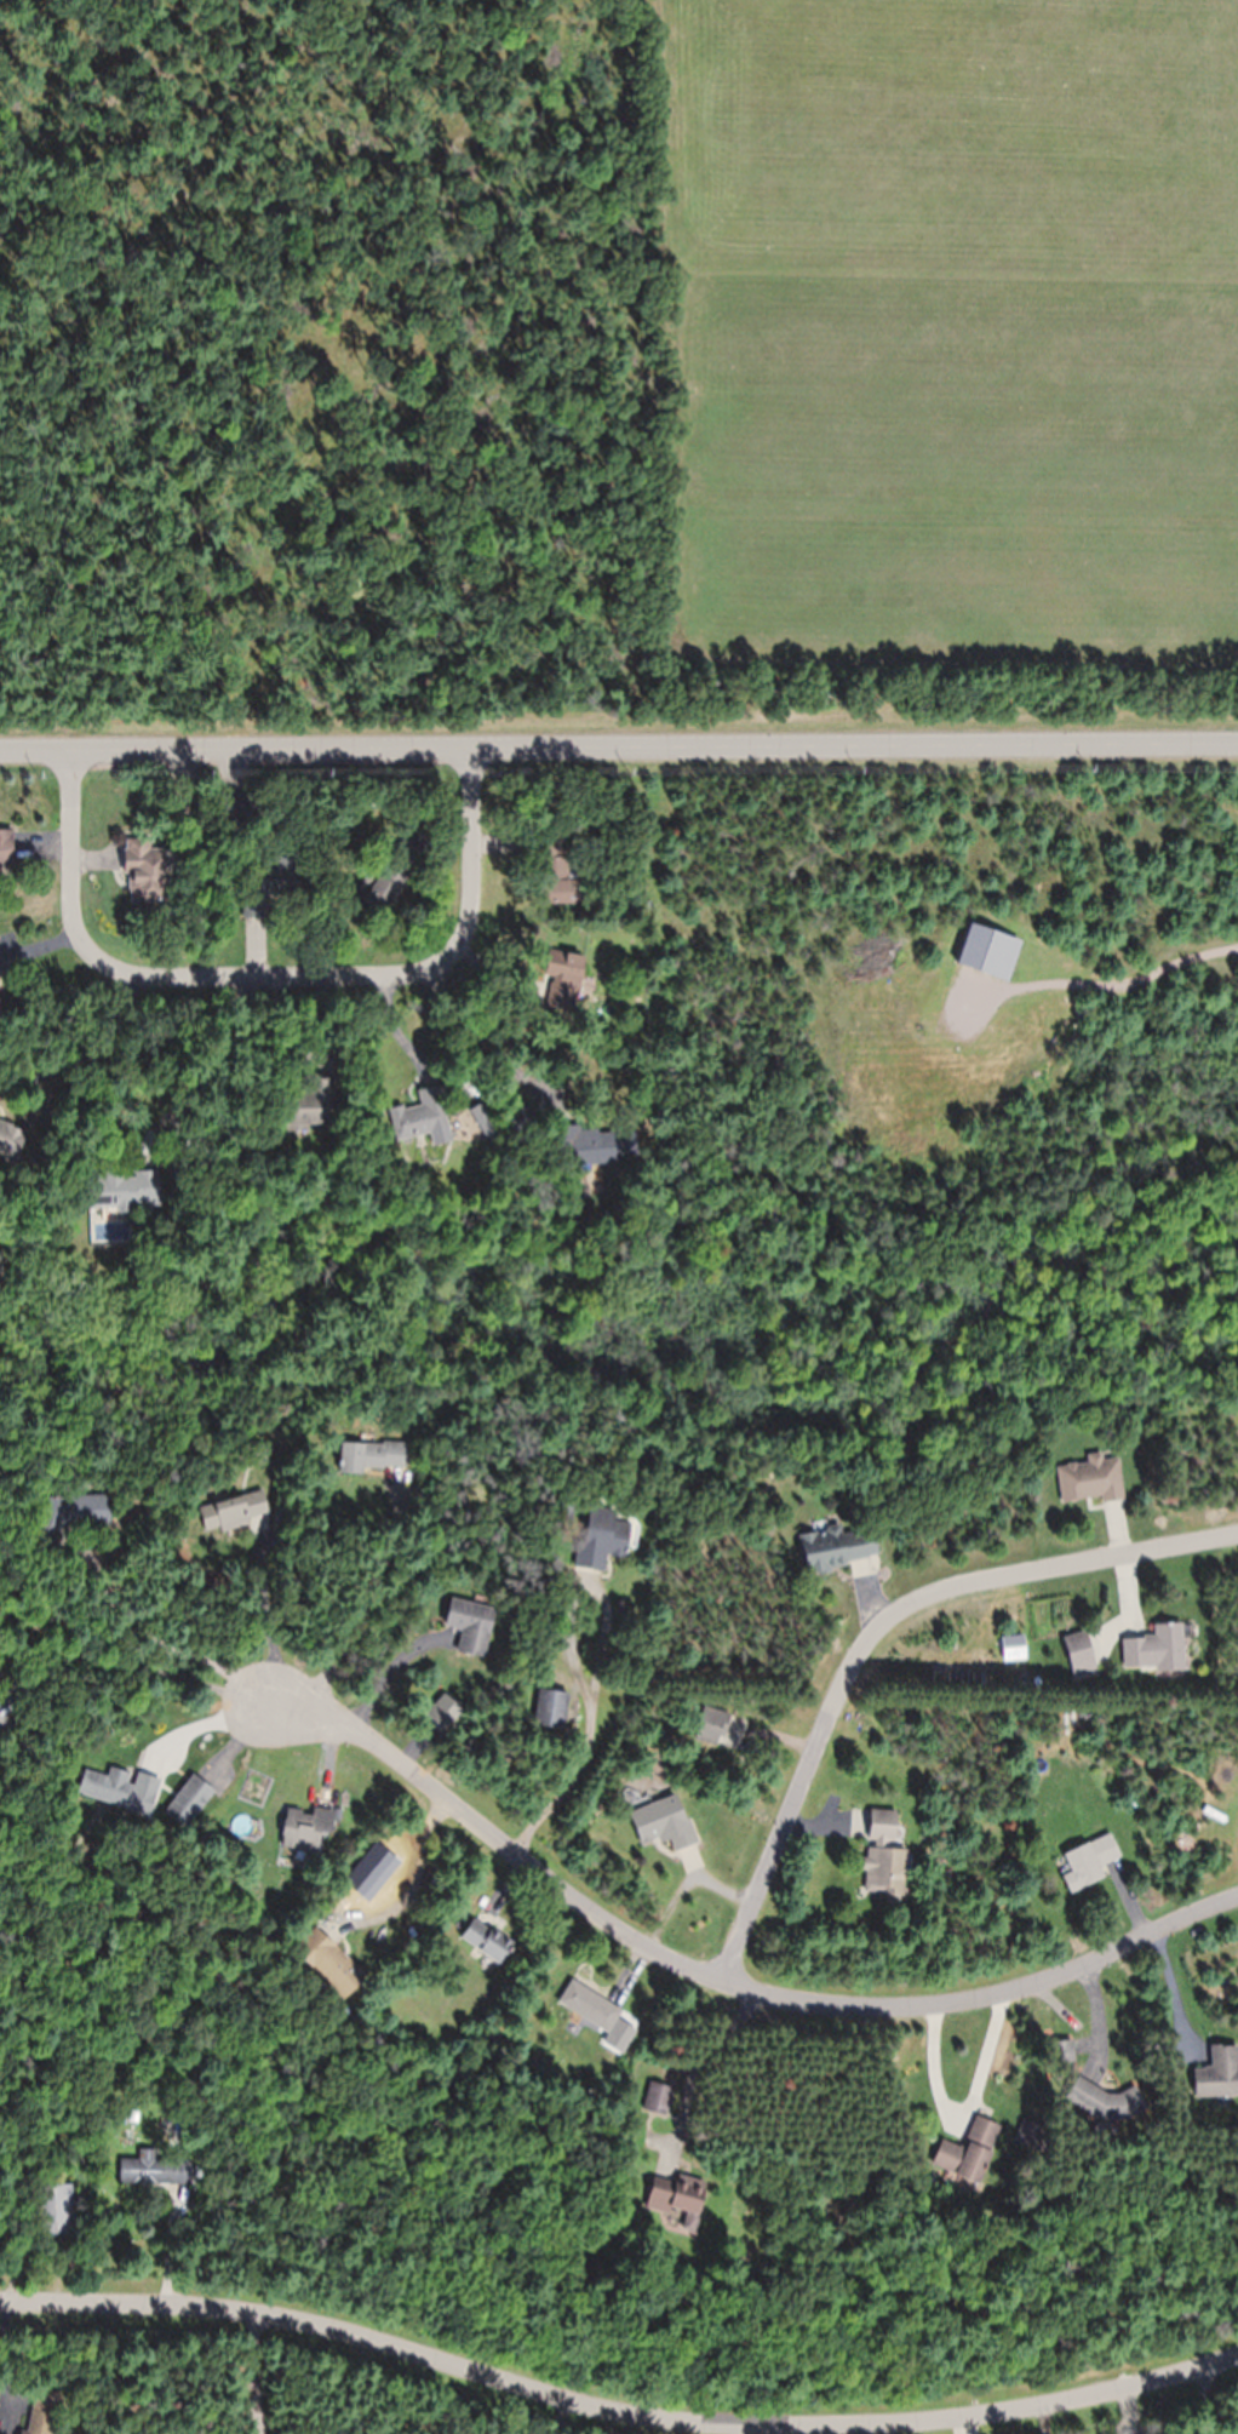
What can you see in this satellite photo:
crop: (958, 325)
road: (618, 745)
building: (235, 803)
building: (185, 806)
building: (6, 849)
building: (144, 872)
building: (556, 874)
building: (384, 884)
building: (270, 888)
road: (268, 979)
building: (562, 981)
building: (309, 1103)
building: (418, 1116)
building: (485, 1123)
building: (10, 1141)
building: (594, 1147)
building: (122, 1190)
building: (371, 1457)
building: (1090, 1481)
building: (69, 1513)
building: (231, 1513)
building: (600, 1539)
building: (836, 1548)
building: (469, 1625)
road: (877, 1626)
building: (1078, 1650)
building: (1154, 1651)
building: (550, 1708)
building: (710, 1725)
building: (111, 1788)
building: (188, 1800)
building: (661, 1821)
building: (305, 1827)
building: (883, 1855)
building: (1088, 1861)
building: (486, 1940)
building: (327, 1963)
road: (778, 1993)
building: (589, 2005)
building: (1217, 2073)
building: (657, 2098)
building: (1105, 2103)
building: (968, 2150)
building: (155, 2169)
building: (676, 2195)
building: (55, 2209)
road: (620, 2366)
building: (40, 2412)

